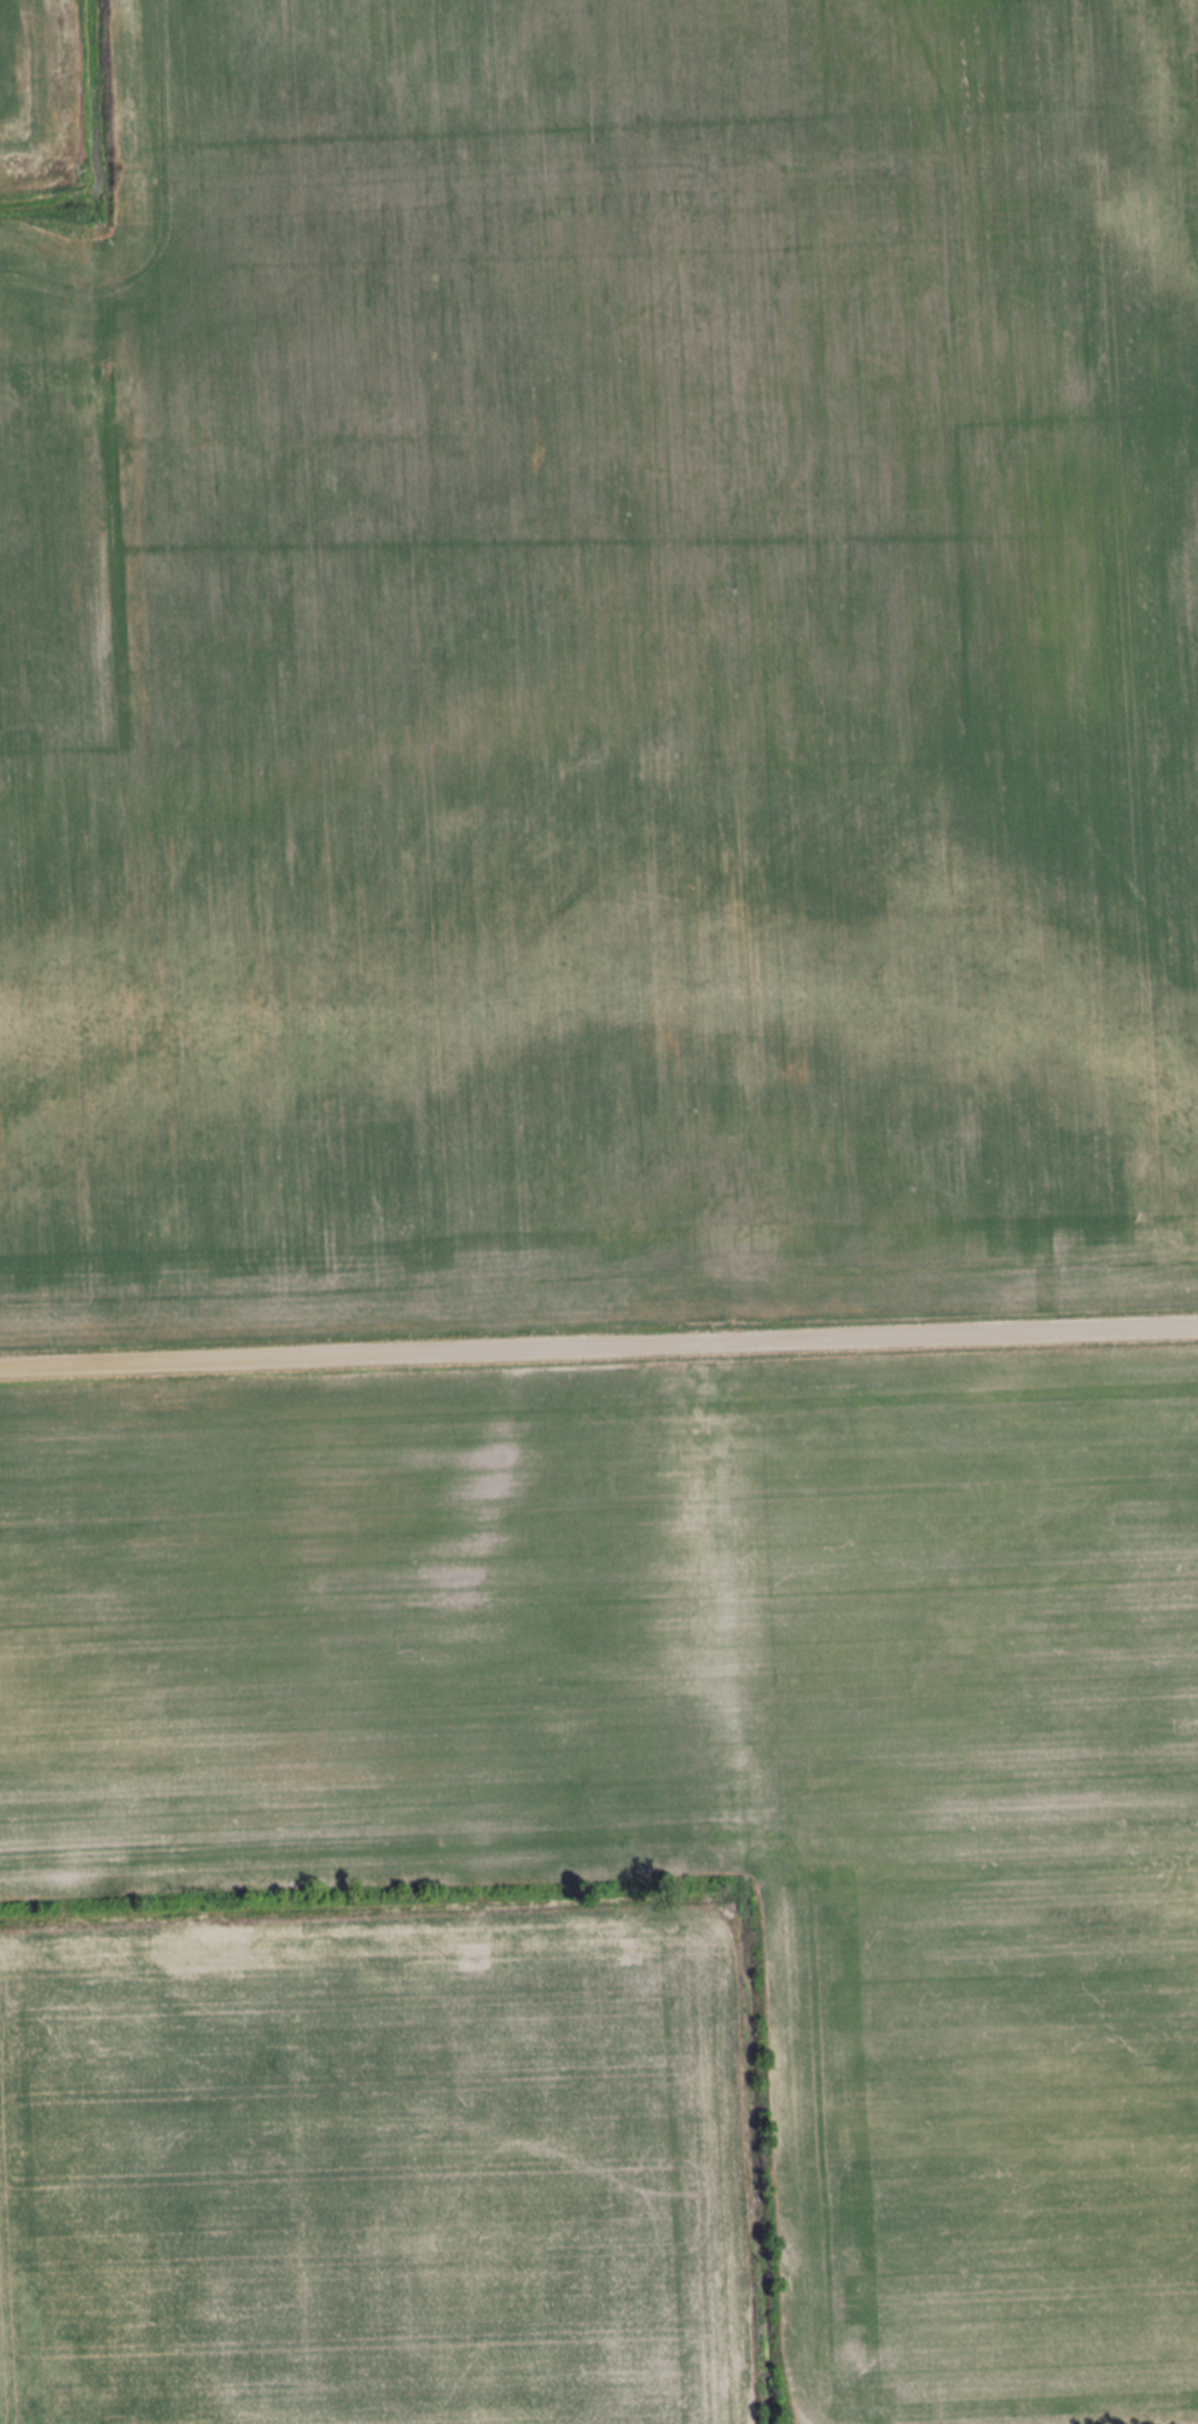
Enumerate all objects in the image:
road: (599, 1350)

